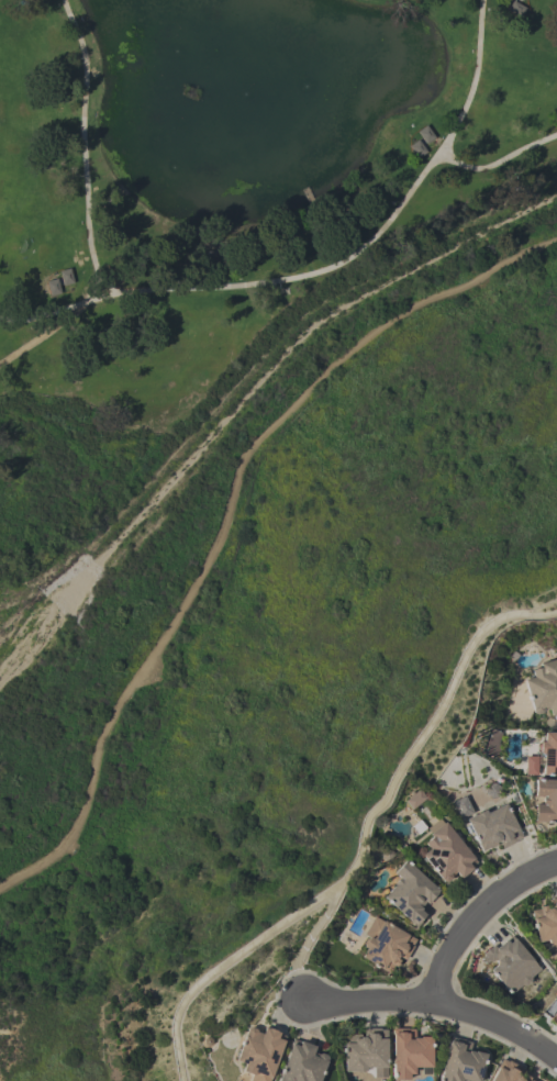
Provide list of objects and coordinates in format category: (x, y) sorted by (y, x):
building: (521, 0)
building: (516, 9)
building: (426, 135)
building: (417, 149)
road: (497, 164)
pier: (307, 198)
building: (66, 277)
building: (54, 288)
road: (231, 289)
road: (91, 290)
road: (58, 311)
road: (43, 332)
park: (239, 354)
road: (151, 401)
road: (224, 515)
building: (544, 689)
building: (549, 755)
building: (532, 766)
building: (493, 791)
building: (416, 799)
building: (546, 802)
building: (463, 807)
building: (494, 828)
road: (360, 843)
building: (385, 855)
building: (447, 855)
building: (409, 892)
road: (474, 917)
building: (546, 923)
building: (383, 944)
road: (309, 945)
building: (510, 965)
road: (435, 1005)
building: (554, 1018)
building: (364, 1050)
building: (408, 1050)
building: (258, 1051)
building: (459, 1061)
building: (300, 1062)
building: (506, 1072)

